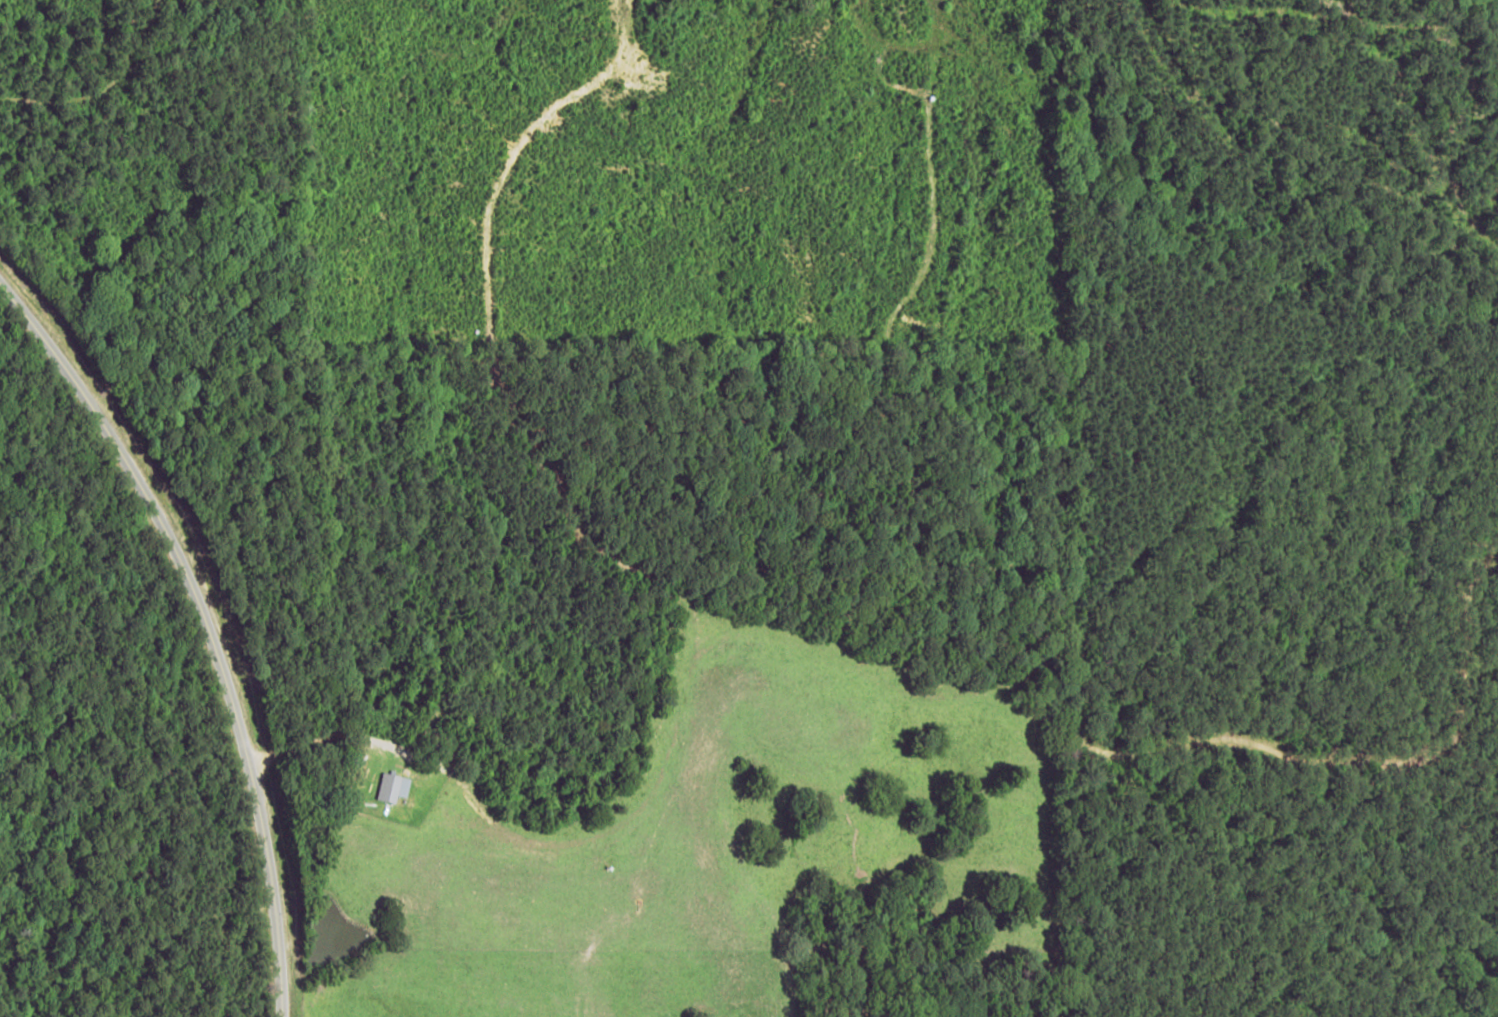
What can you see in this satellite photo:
road: (176, 632)
building: (395, 786)

